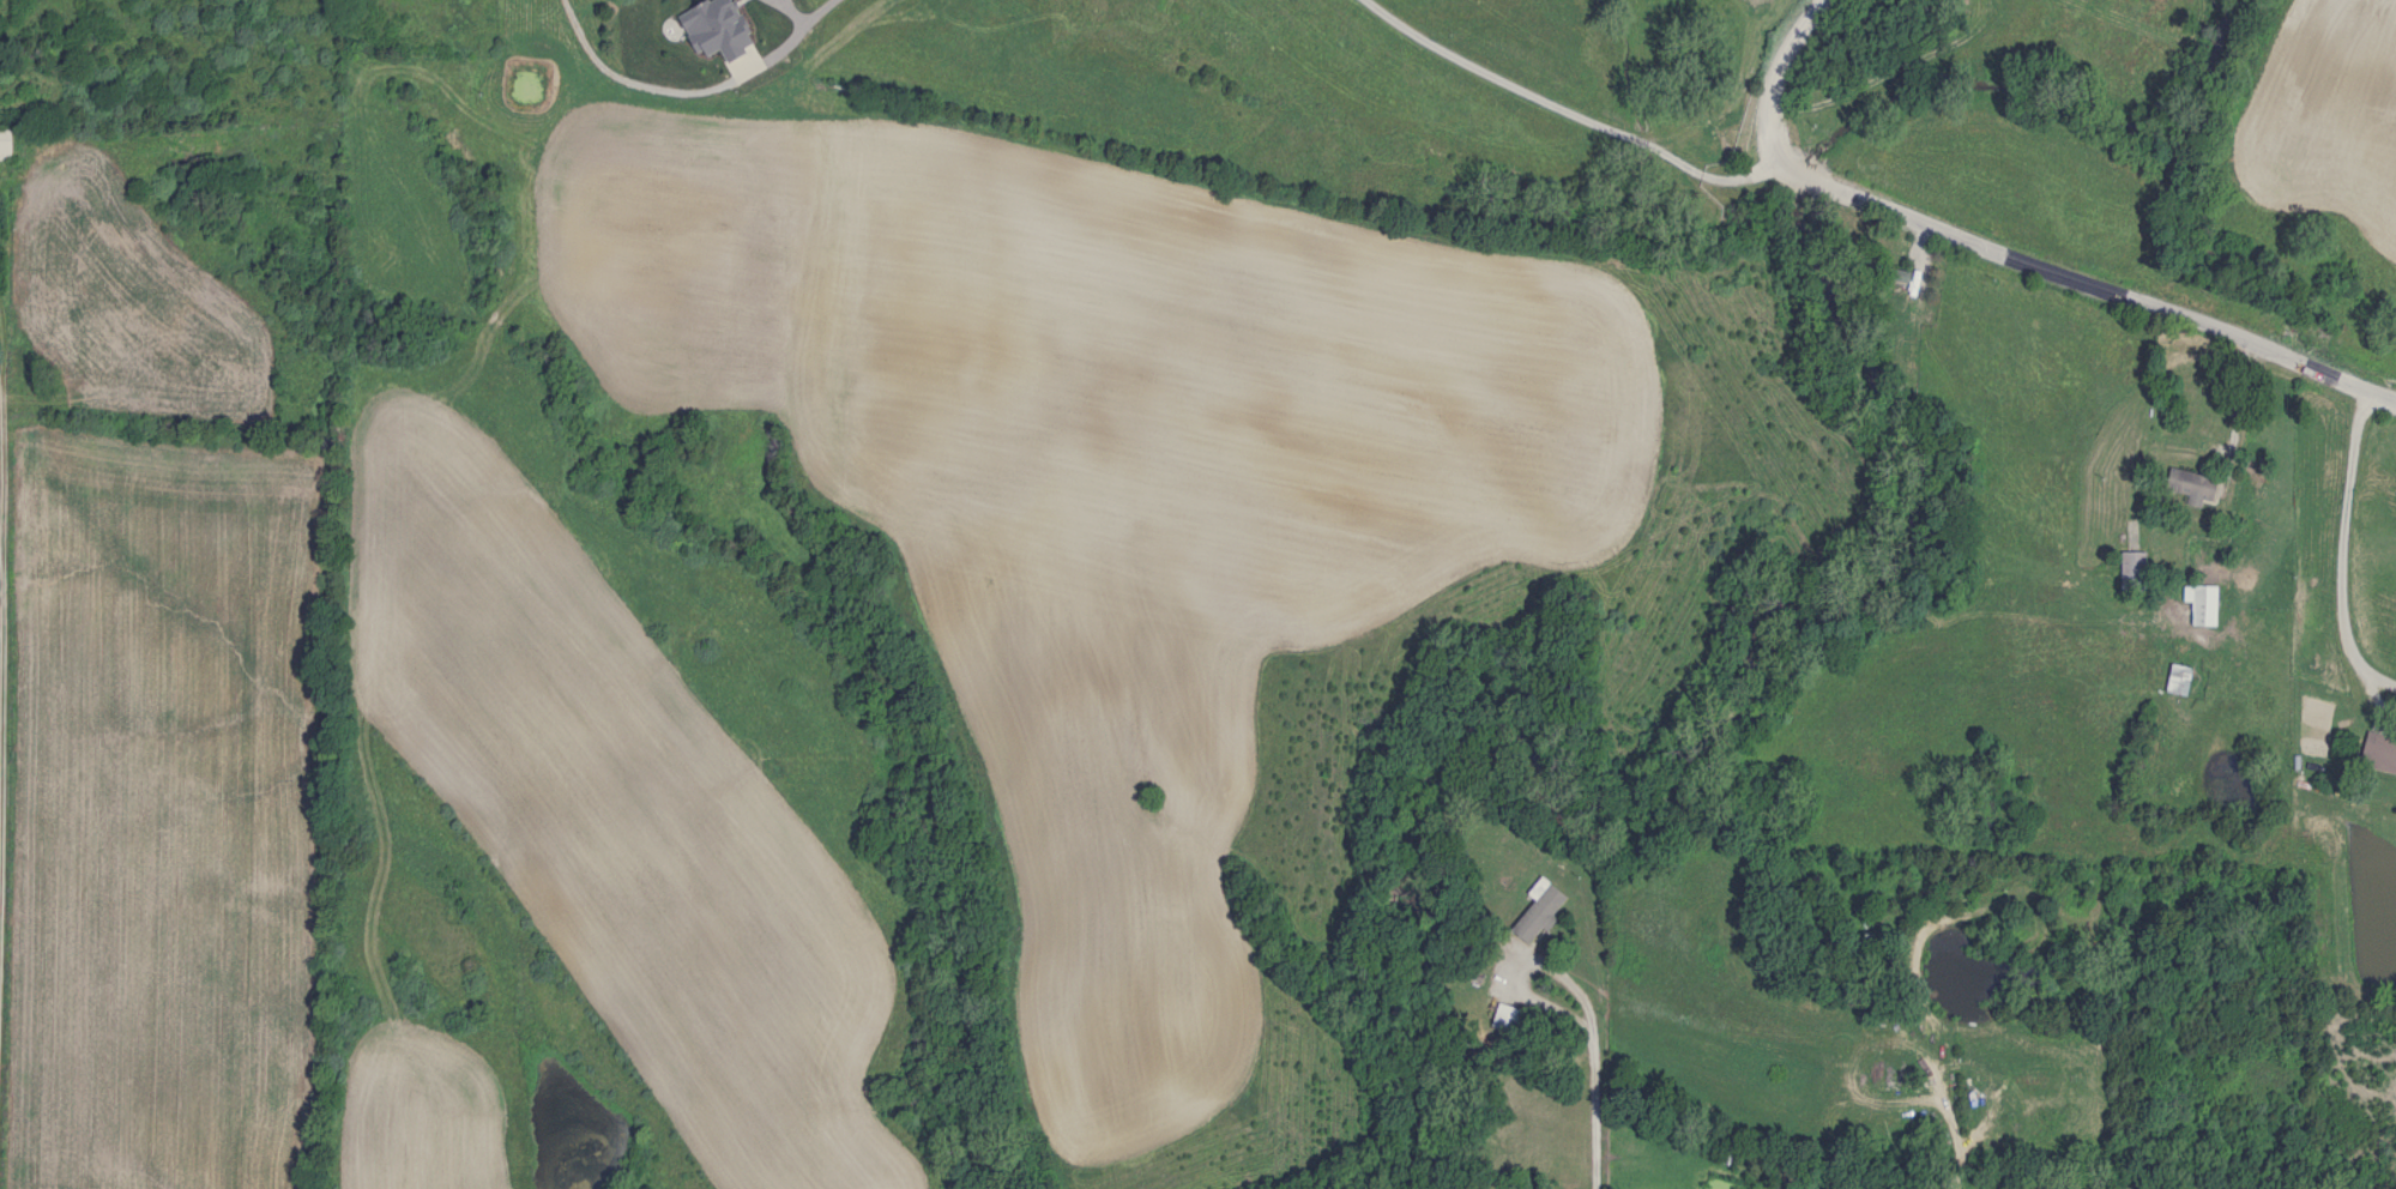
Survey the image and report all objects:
road: (618, 78)
road: (1785, 83)
road: (1557, 104)
building: (7, 145)
road: (2063, 277)
building: (1914, 278)
road: (641, 351)
road: (2374, 396)
building: (2193, 485)
road: (2347, 551)
building: (2134, 568)
building: (2203, 603)
building: (2181, 678)
building: (2380, 750)
building: (1540, 913)
building: (1508, 1015)
road: (1594, 1096)

